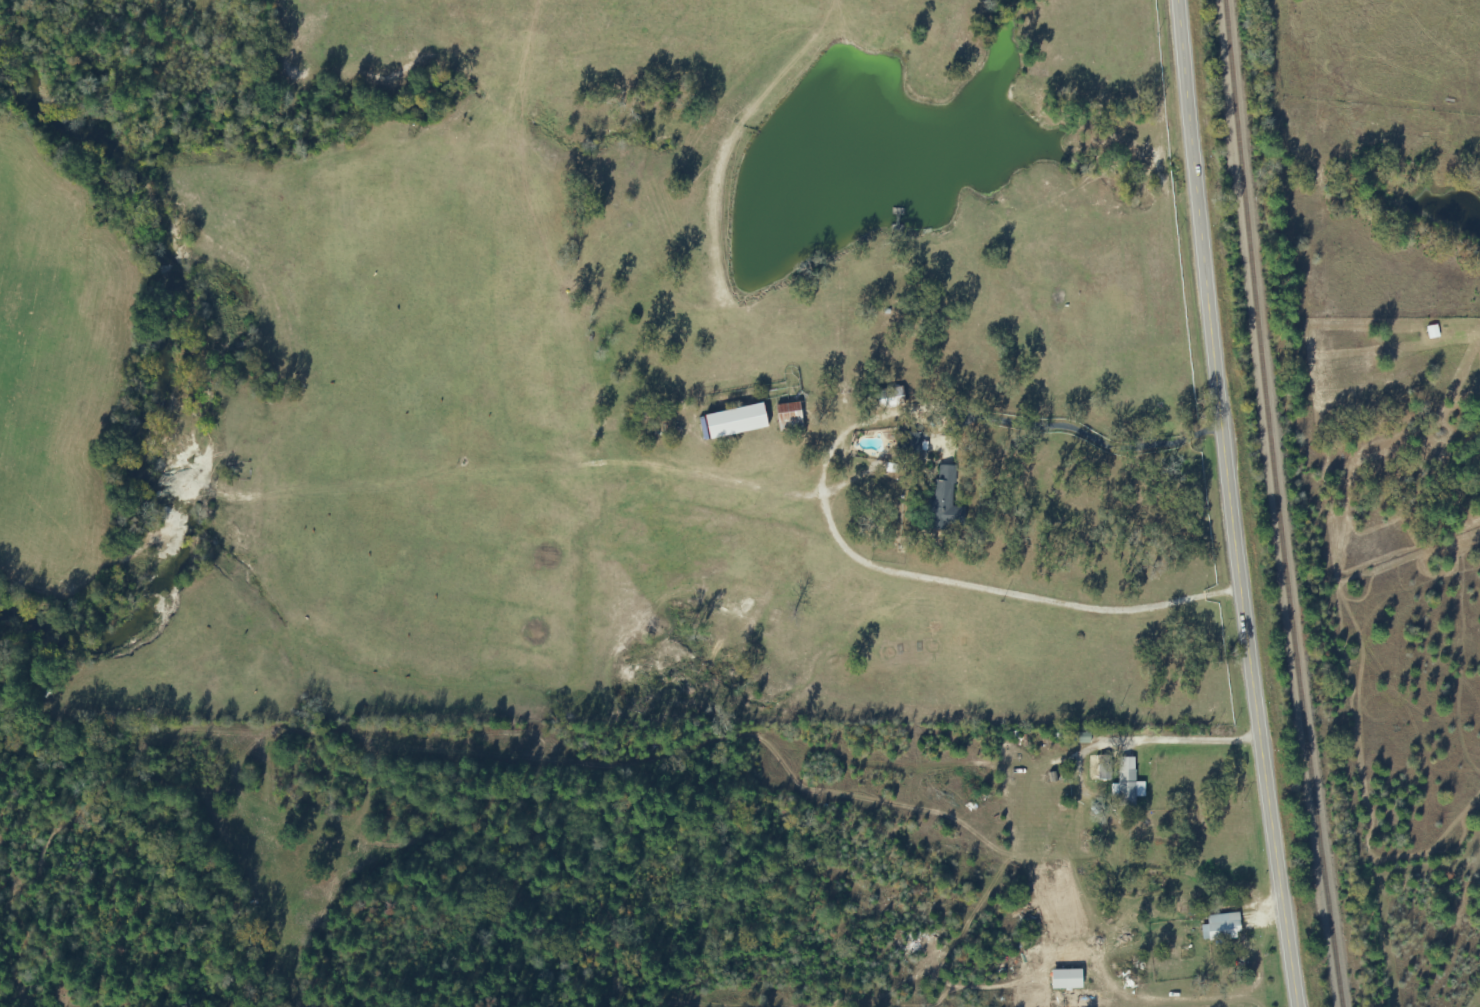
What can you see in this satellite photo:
building: (1431, 333)
building: (889, 399)
building: (787, 419)
building: (911, 444)
building: (943, 503)
road: (1238, 503)
railway: (1277, 504)
building: (1102, 770)
building: (1124, 789)
building: (1222, 932)
building: (1068, 958)

